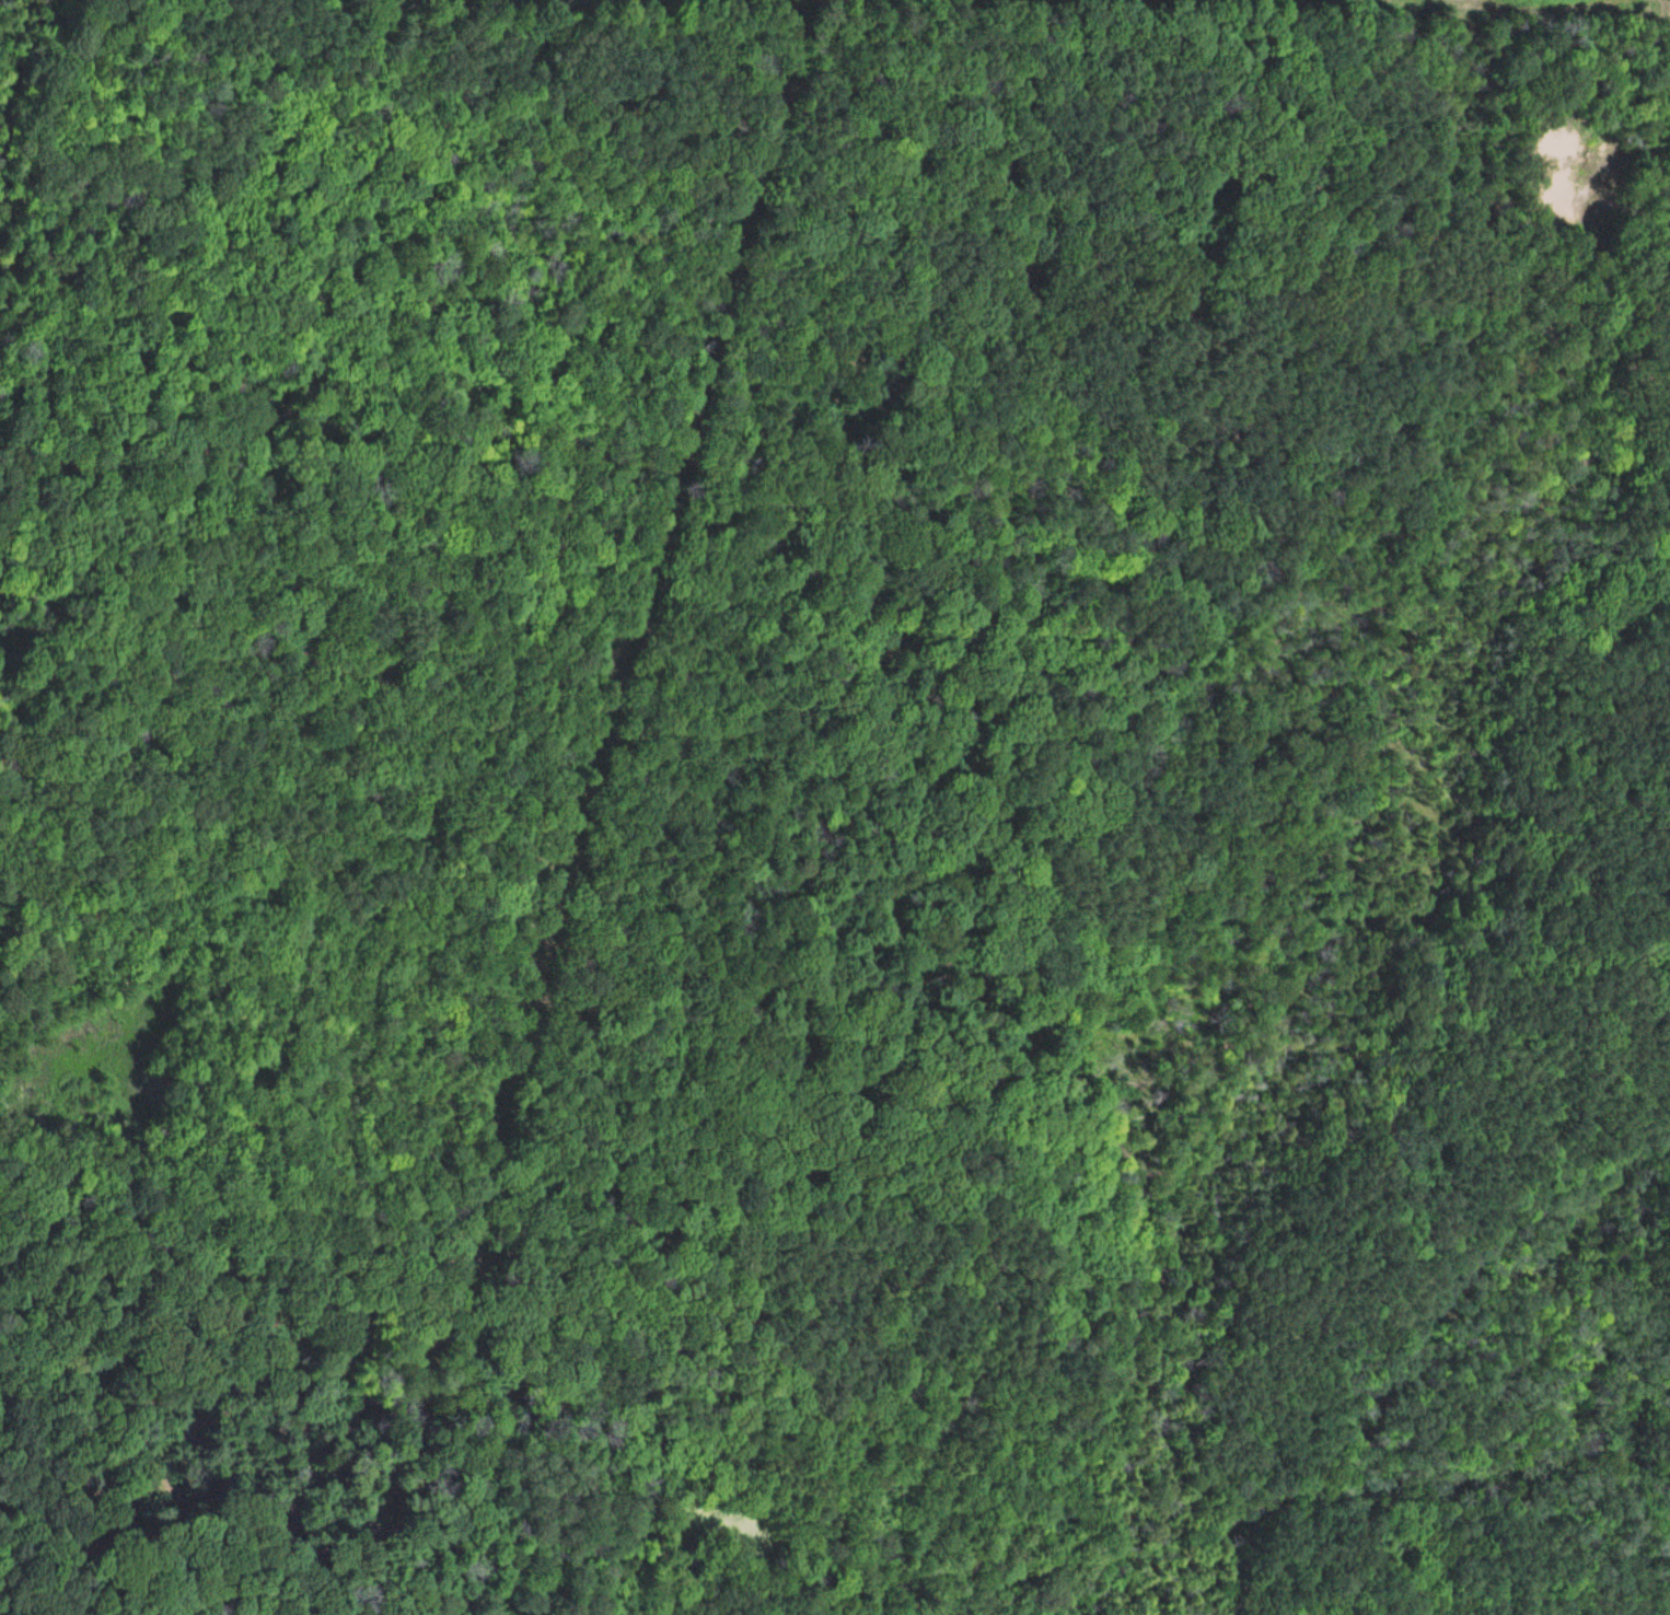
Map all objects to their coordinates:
road: (723, 942)

